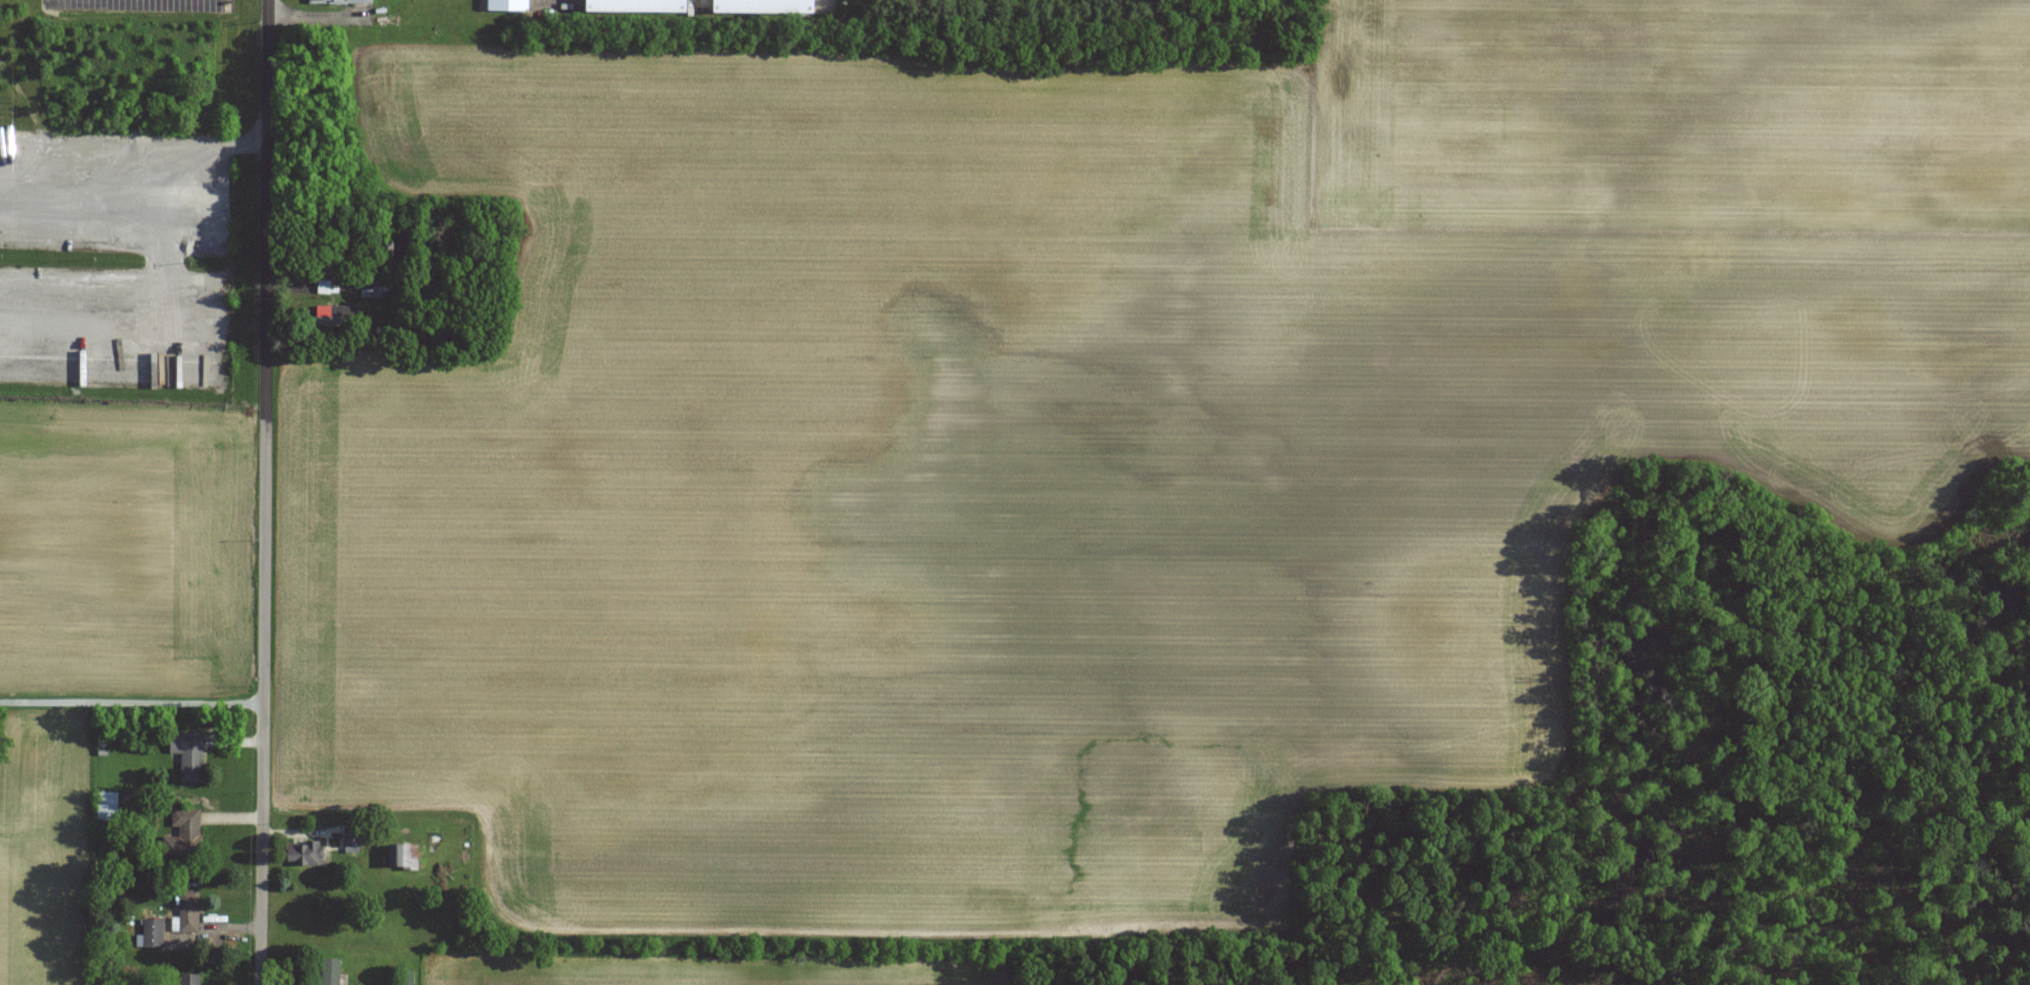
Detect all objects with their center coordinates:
building: (336, 1)
building: (634, 6)
building: (760, 6)
road: (138, 186)
building: (373, 285)
building: (335, 316)
road: (266, 352)
road: (132, 702)
building: (188, 754)
building: (105, 806)
building: (184, 833)
building: (351, 840)
road: (262, 844)
building: (305, 853)
building: (402, 856)
building: (189, 910)
building: (152, 932)
building: (330, 971)
building: (188, 979)

